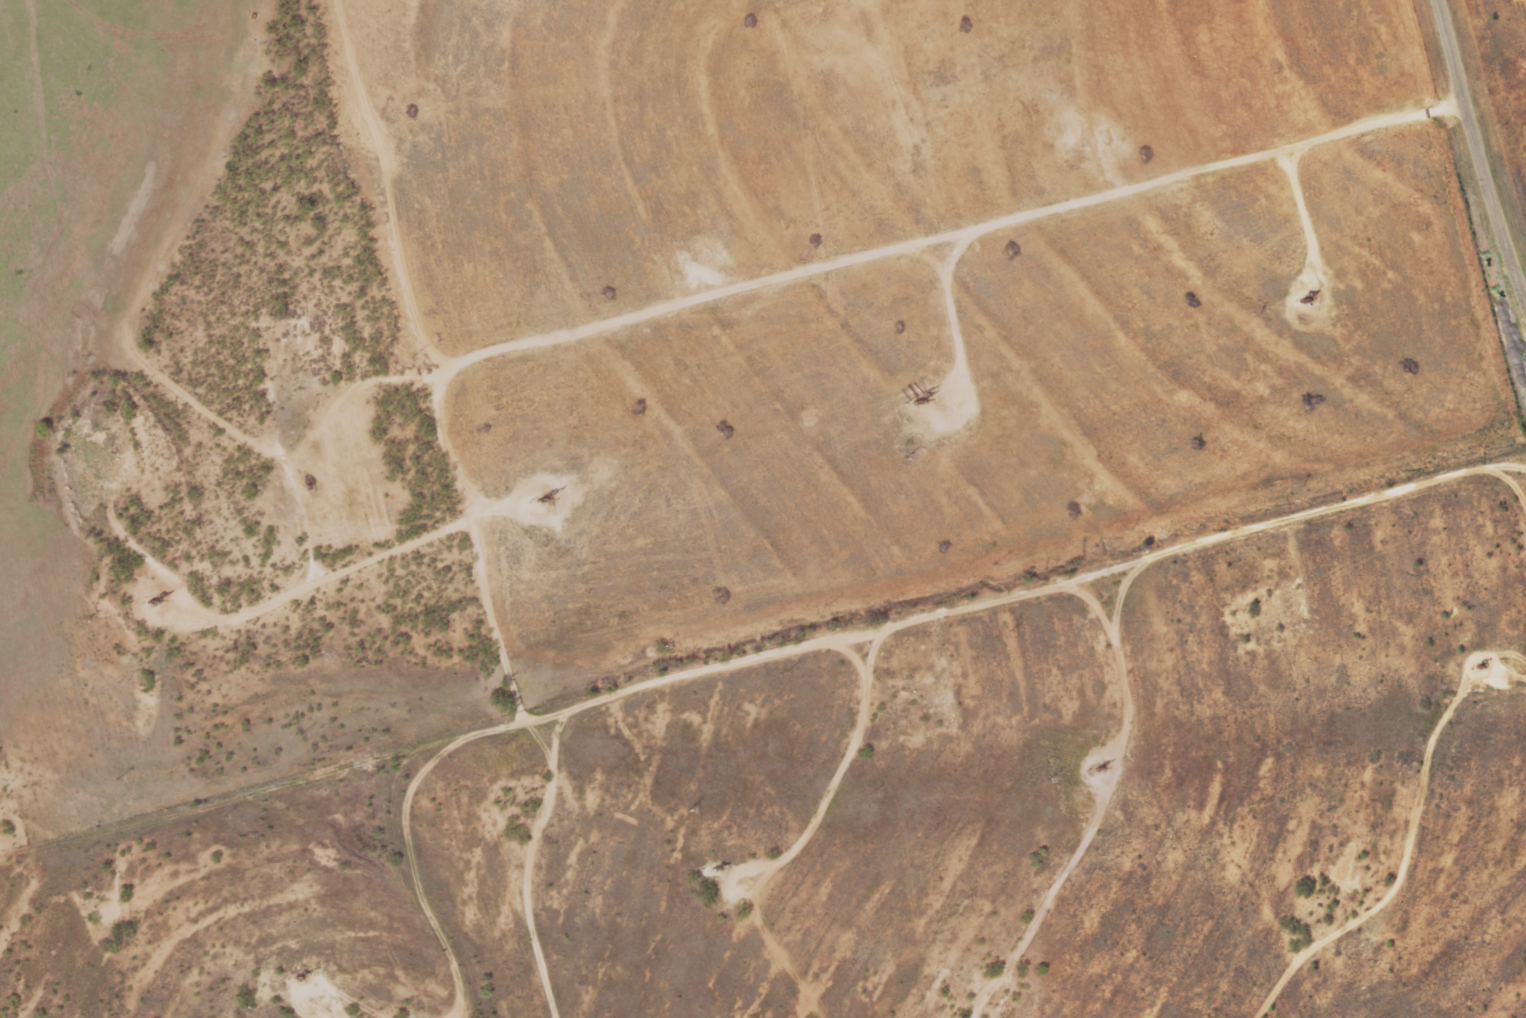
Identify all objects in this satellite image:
road: (1480, 153)
road: (873, 250)

